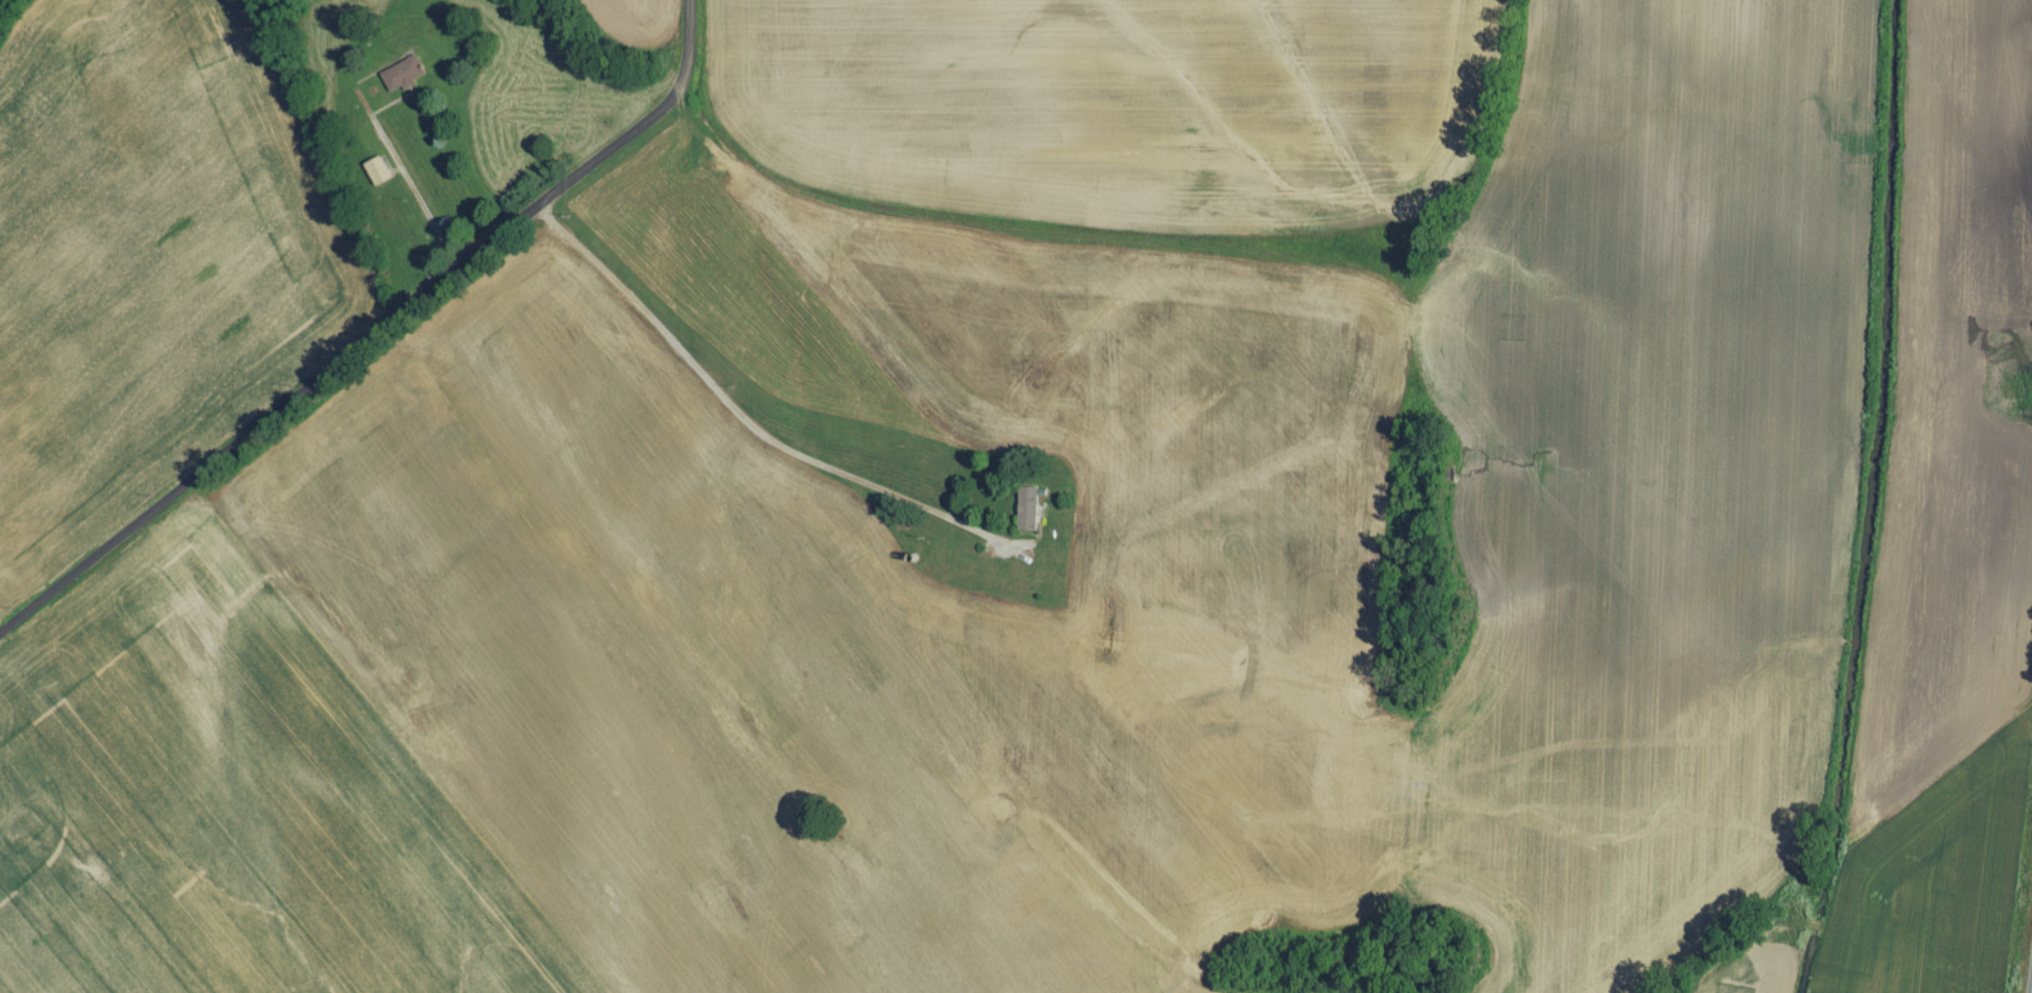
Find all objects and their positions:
building: (404, 82)
building: (379, 178)
road: (377, 342)
road: (741, 418)
building: (1028, 516)

